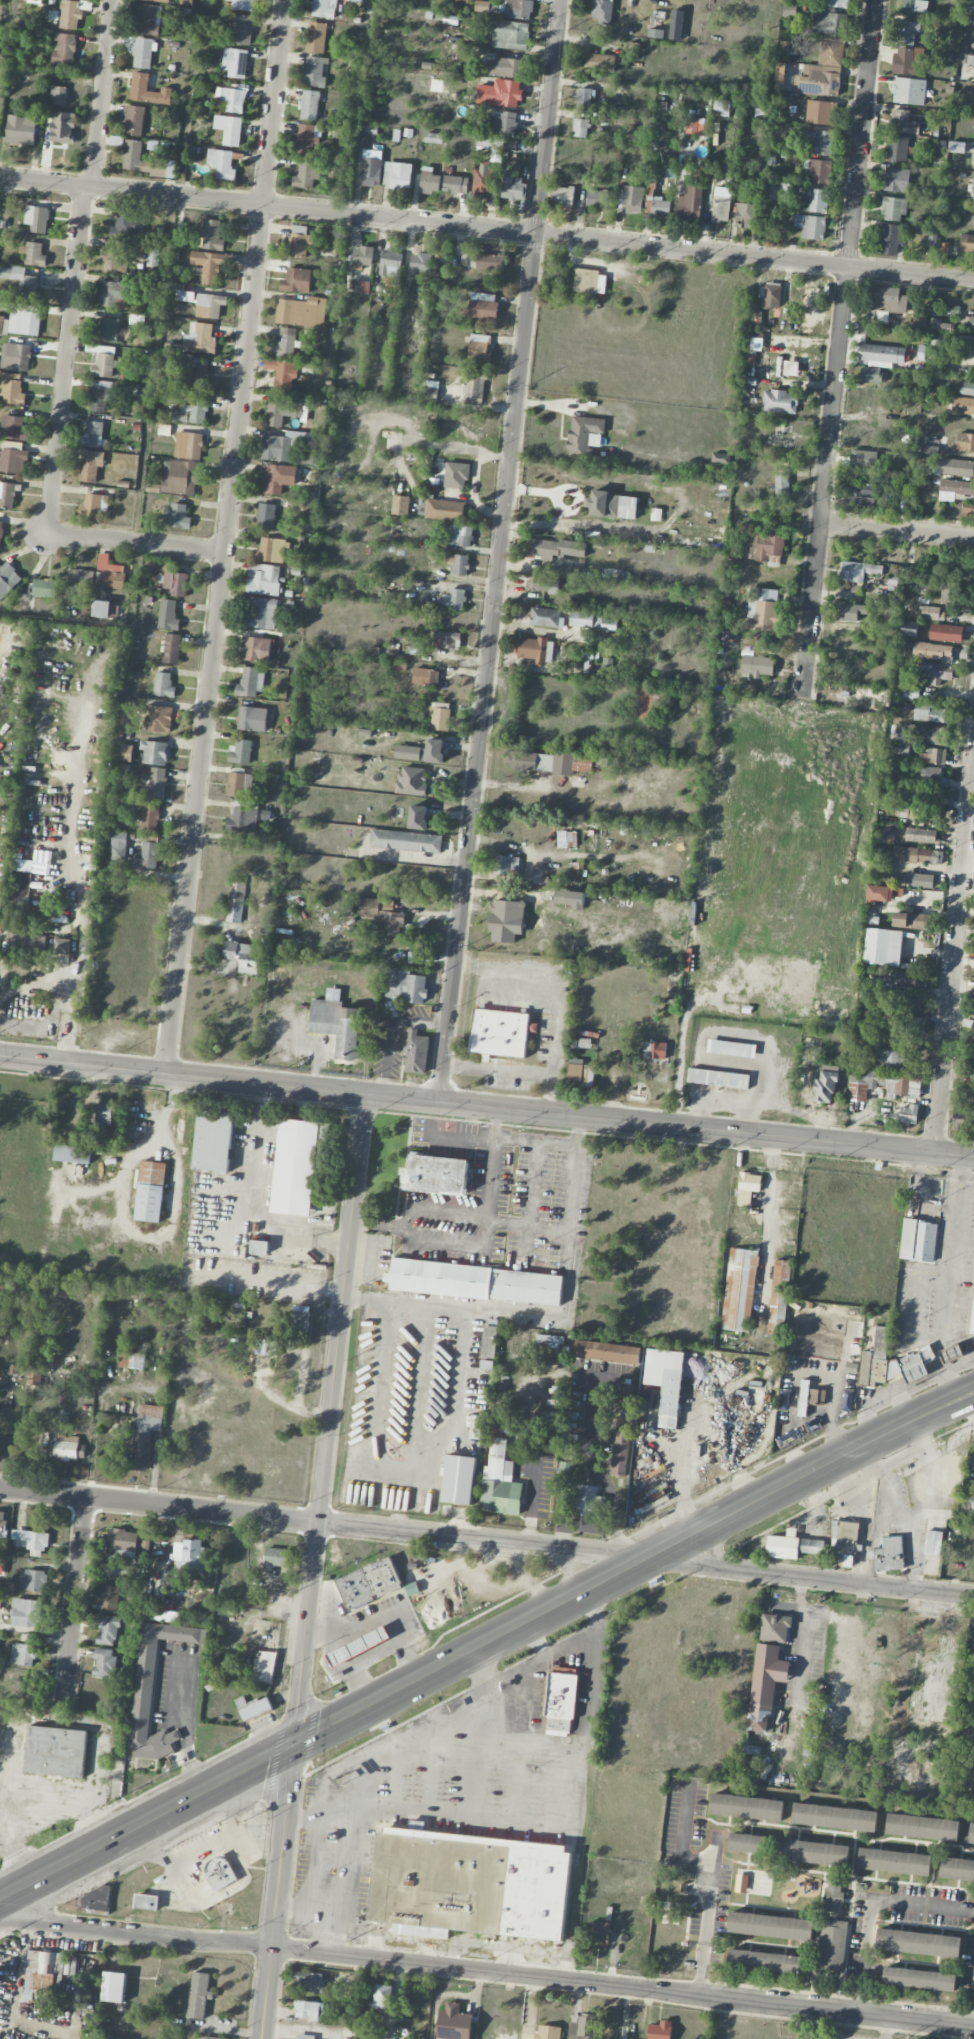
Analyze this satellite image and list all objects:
building: (161, 0)
building: (461, 1)
building: (970, 2)
building: (837, 3)
building: (482, 6)
building: (913, 7)
building: (324, 8)
building: (602, 10)
building: (789, 11)
building: (69, 14)
building: (149, 19)
building: (828, 22)
building: (676, 25)
building: (242, 29)
building: (906, 32)
building: (655, 33)
building: (510, 35)
building: (316, 37)
building: (63, 48)
building: (458, 52)
building: (143, 53)
building: (831, 54)
building: (907, 61)
building: (235, 62)
building: (601, 62)
building: (505, 67)
building: (780, 71)
building: (315, 72)
building: (818, 81)
building: (139, 88)
building: (909, 91)
road: (101, 93)
building: (500, 93)
building: (58, 95)
building: (584, 97)
building: (231, 98)
building: (309, 105)
building: (722, 107)
building: (820, 112)
building: (134, 120)
building: (903, 123)
building: (504, 124)
building: (697, 126)
building: (63, 128)
building: (580, 128)
building: (229, 129)
building: (21, 130)
building: (434, 138)
building: (308, 140)
building: (823, 142)
building: (897, 149)
building: (143, 161)
building: (221, 164)
building: (818, 171)
building: (371, 172)
building: (307, 174)
building: (397, 175)
building: (483, 178)
building: (429, 180)
building: (896, 180)
building: (456, 184)
building: (512, 188)
building: (778, 191)
building: (973, 193)
building: (563, 196)
building: (599, 200)
building: (632, 200)
building: (815, 201)
building: (690, 203)
building: (660, 207)
building: (720, 209)
building: (893, 209)
building: (747, 215)
building: (37, 218)
building: (129, 225)
building: (810, 226)
road: (487, 228)
building: (210, 234)
building: (891, 238)
building: (300, 241)
building: (967, 243)
building: (33, 255)
building: (362, 257)
building: (152, 258)
building: (115, 261)
building: (419, 262)
building: (489, 262)
building: (390, 264)
building: (209, 265)
building: (296, 281)
building: (590, 281)
building: (22, 282)
building: (114, 295)
building: (770, 295)
building: (184, 296)
building: (890, 299)
building: (209, 305)
building: (483, 306)
building: (301, 312)
building: (21, 323)
building: (968, 323)
building: (939, 326)
building: (109, 330)
building: (200, 339)
building: (285, 343)
building: (965, 344)
road: (838, 347)
building: (480, 348)
building: (882, 355)
building: (16, 357)
road: (65, 359)
building: (104, 366)
building: (791, 368)
building: (282, 375)
building: (870, 375)
building: (199, 376)
building: (475, 386)
building: (967, 388)
building: (11, 389)
building: (429, 391)
building: (100, 395)
building: (780, 402)
building: (962, 405)
building: (192, 412)
building: (281, 412)
building: (14, 427)
building: (92, 434)
building: (584, 436)
building: (965, 442)
building: (188, 445)
building: (282, 445)
building: (929, 450)
building: (720, 458)
building: (12, 460)
building: (91, 465)
building: (957, 467)
building: (456, 475)
building: (181, 478)
building: (276, 478)
building: (904, 479)
building: (781, 485)
building: (956, 490)
building: (7, 495)
building: (862, 496)
building: (94, 505)
building: (400, 505)
building: (612, 505)
building: (968, 508)
building: (445, 510)
building: (656, 514)
building: (266, 515)
building: (179, 516)
road: (897, 529)
building: (1, 533)
building: (461, 535)
road: (225, 537)
road: (135, 543)
building: (556, 548)
building: (767, 549)
building: (271, 550)
road: (500, 551)
building: (458, 564)
building: (570, 569)
building: (857, 571)
building: (110, 573)
building: (7, 578)
building: (80, 578)
building: (263, 579)
building: (176, 583)
building: (542, 585)
building: (44, 588)
building: (946, 589)
building: (453, 599)
building: (101, 609)
building: (762, 609)
building: (851, 612)
building: (262, 613)
building: (932, 614)
building: (168, 615)
building: (546, 617)
building: (581, 619)
building: (605, 623)
building: (909, 632)
building: (946, 633)
building: (446, 640)
building: (415, 648)
building: (170, 649)
building: (257, 649)
building: (537, 650)
building: (932, 651)
building: (757, 666)
building: (935, 673)
building: (425, 676)
building: (250, 682)
building: (163, 685)
building: (644, 702)
building: (932, 714)
building: (439, 716)
building: (157, 718)
building: (252, 719)
building: (929, 734)
building: (901, 749)
building: (154, 752)
building: (240, 752)
building: (422, 752)
building: (126, 753)
building: (933, 756)
building: (553, 762)
building: (932, 775)
building: (411, 781)
building: (239, 784)
building: (156, 787)
building: (905, 793)
building: (929, 798)
building: (924, 814)
building: (243, 817)
building: (418, 817)
building: (148, 818)
building: (920, 835)
building: (405, 841)
building: (118, 845)
building: (915, 855)
building: (149, 856)
road: (414, 857)
building: (21, 865)
building: (508, 866)
building: (920, 880)
building: (18, 887)
building: (880, 893)
building: (569, 898)
building: (235, 902)
building: (382, 915)
building: (506, 920)
building: (910, 920)
building: (27, 942)
building: (62, 946)
building: (883, 947)
building: (243, 956)
road: (953, 956)
building: (906, 978)
building: (406, 987)
road: (69, 1002)
building: (905, 1003)
building: (973, 1010)
building: (336, 1026)
building: (973, 1032)
building: (501, 1033)
building: (580, 1039)
building: (731, 1048)
building: (654, 1050)
building: (972, 1051)
building: (416, 1052)
building: (889, 1060)
building: (971, 1070)
building: (579, 1073)
building: (718, 1078)
building: (882, 1084)
building: (966, 1094)
road: (486, 1107)
building: (908, 1114)
building: (104, 1115)
building: (961, 1117)
road: (496, 1124)
road: (455, 1137)
building: (213, 1141)
road: (536, 1143)
building: (72, 1154)
building: (297, 1167)
building: (152, 1172)
building: (435, 1175)
building: (748, 1187)
building: (149, 1203)
road: (569, 1210)
road: (474, 1213)
road: (375, 1224)
building: (919, 1239)
road: (449, 1240)
building: (259, 1247)
building: (475, 1282)
building: (738, 1289)
building: (779, 1297)
road: (558, 1315)
building: (973, 1321)
building: (300, 1322)
building: (815, 1339)
building: (549, 1341)
building: (489, 1342)
building: (607, 1352)
building: (951, 1353)
building: (131, 1360)
building: (890, 1362)
building: (486, 1364)
building: (666, 1382)
road: (835, 1392)
building: (624, 1397)
building: (816, 1397)
building: (543, 1419)
building: (813, 1423)
building: (477, 1427)
building: (146, 1434)
road: (587, 1438)
building: (567, 1442)
building: (622, 1445)
building: (68, 1448)
road: (414, 1469)
building: (565, 1470)
building: (459, 1479)
building: (500, 1481)
building: (968, 1502)
building: (590, 1503)
building: (2, 1521)
road: (582, 1526)
building: (845, 1526)
road: (487, 1538)
building: (29, 1540)
building: (933, 1542)
building: (122, 1545)
building: (813, 1546)
building: (782, 1547)
building: (888, 1555)
building: (192, 1556)
building: (276, 1557)
road: (313, 1567)
building: (33, 1580)
building: (369, 1583)
building: (109, 1598)
road: (74, 1602)
building: (26, 1613)
building: (775, 1628)
building: (108, 1631)
road: (536, 1640)
road: (798, 1640)
road: (484, 1644)
building: (358, 1646)
building: (23, 1654)
building: (104, 1663)
road: (527, 1666)
building: (264, 1667)
building: (765, 1686)
building: (144, 1687)
building: (560, 1702)
building: (256, 1709)
road: (187, 1728)
road: (495, 1732)
traffic signals: (294, 1747)
building: (55, 1752)
road: (334, 1771)
building: (746, 1807)
road: (501, 1817)
building: (835, 1817)
road: (323, 1819)
building: (922, 1827)
building: (970, 1833)
road: (683, 1835)
building: (747, 1843)
building: (812, 1851)
building: (894, 1861)
building: (957, 1868)
building: (219, 1872)
building: (741, 1883)
building: (469, 1885)
building: (835, 1895)
building: (146, 1902)
road: (913, 1905)
road: (293, 1908)
road: (706, 1916)
building: (771, 1925)
building: (597, 1934)
building: (918, 1942)
building: (832, 1944)
building: (765, 1961)
road: (863, 1966)
road: (486, 1972)
building: (42, 1977)
building: (919, 1978)
building: (309, 1982)
building: (114, 1987)
building: (199, 1995)
building: (382, 1998)
building: (308, 2010)
building: (454, 2023)
building: (582, 2026)
building: (660, 2030)
building: (548, 2032)
building: (304, 2037)
building: (215, 2038)

